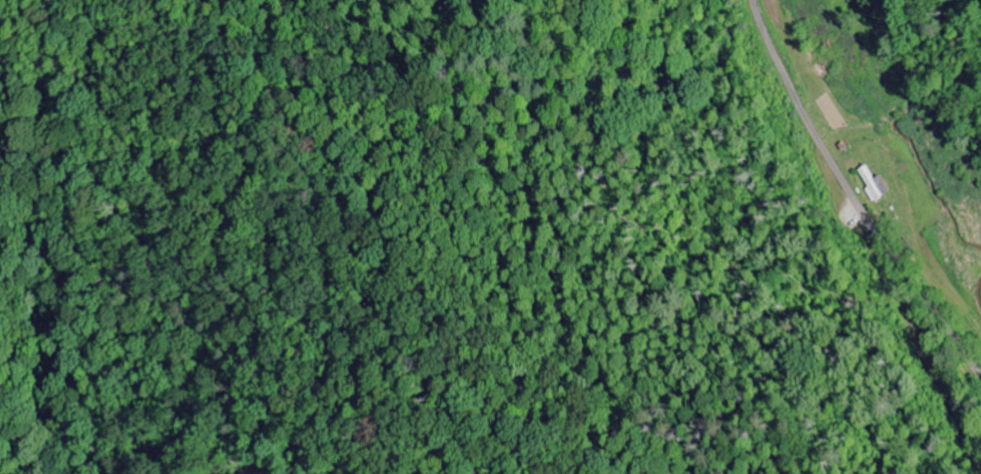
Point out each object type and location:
building: (874, 185)
road: (787, 246)
road: (958, 419)

